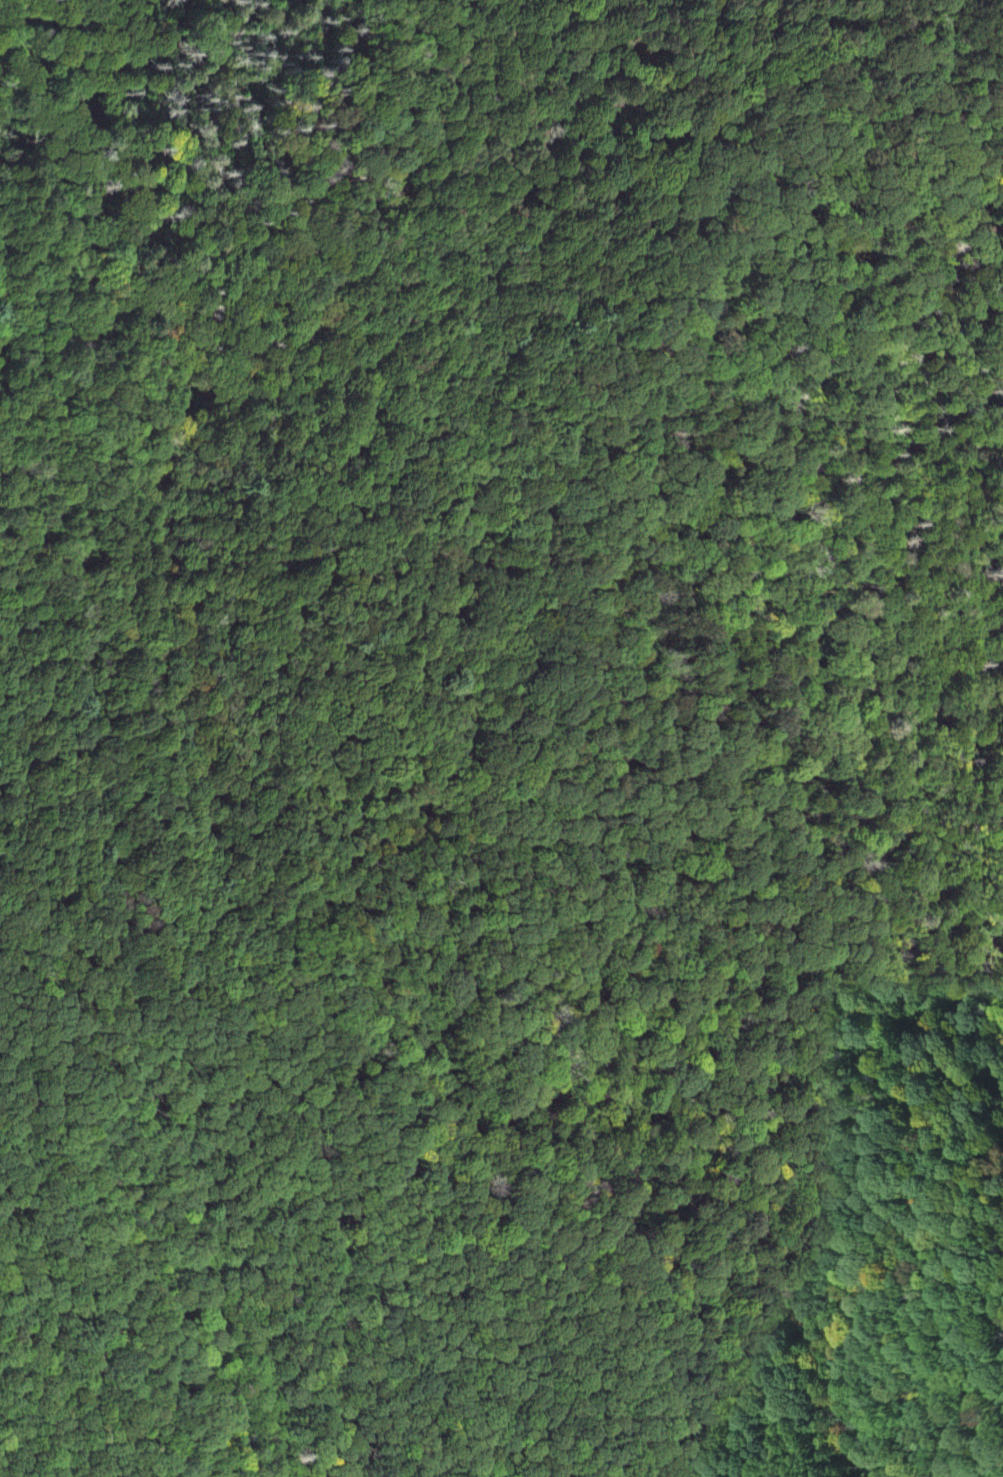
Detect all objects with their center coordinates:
road: (540, 555)

